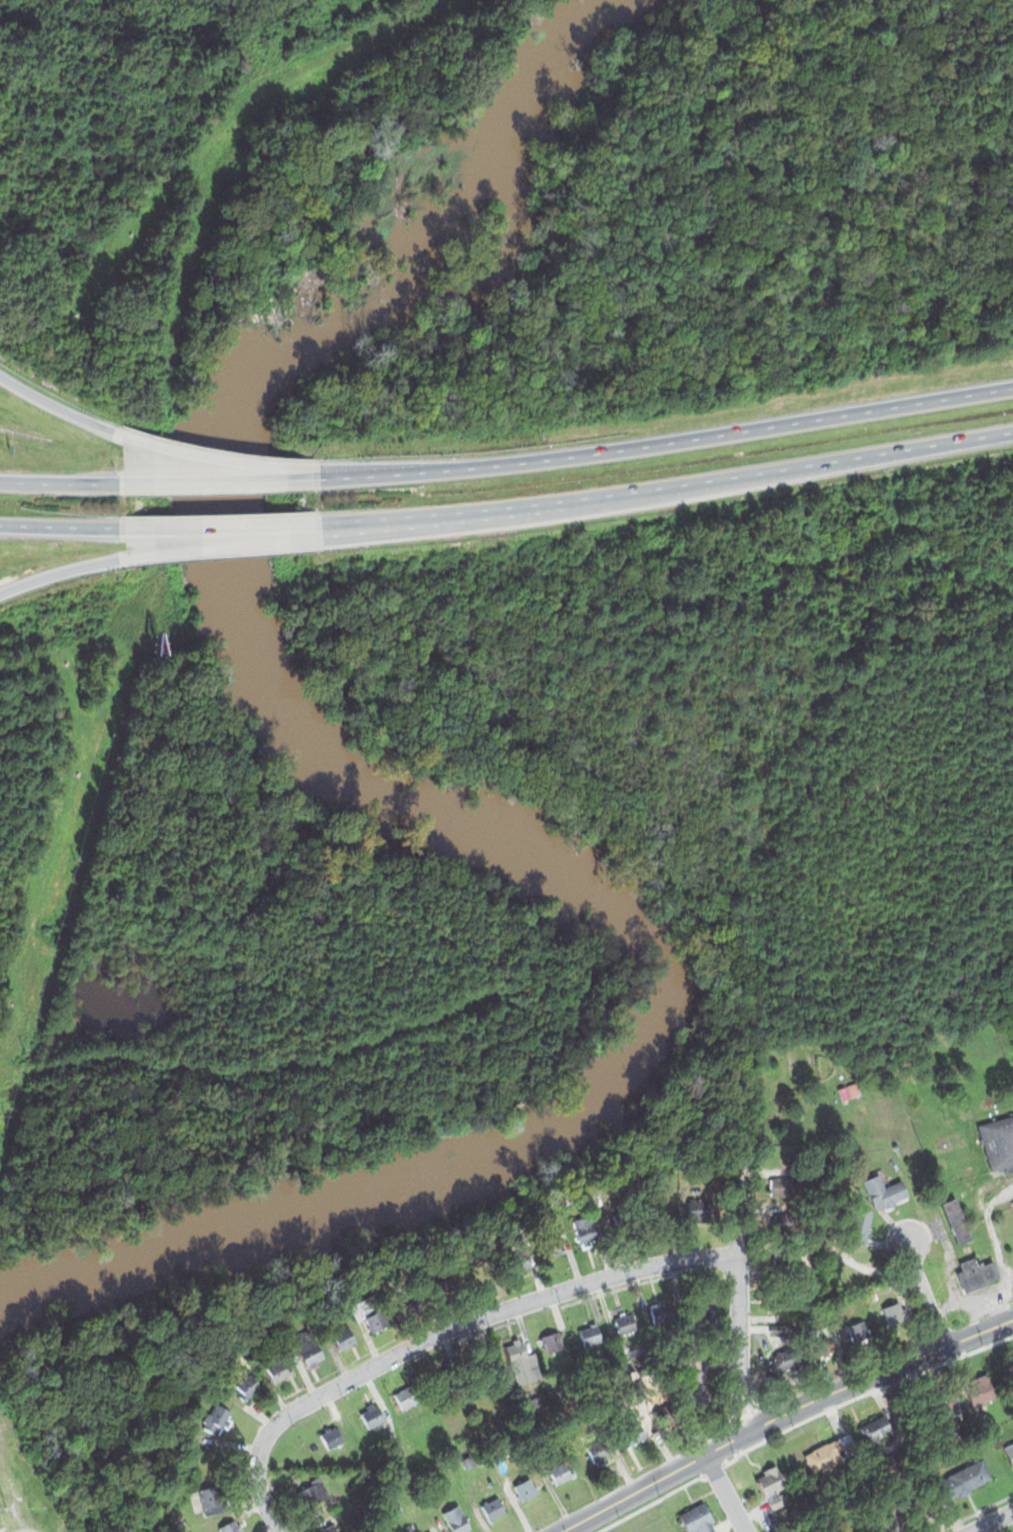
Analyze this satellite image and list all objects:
river: (604, 8)
power tower: (272, 42)
river: (533, 110)
power tower: (225, 169)
power tower: (180, 288)
river: (403, 310)
road: (55, 405)
power tower: (167, 416)
road: (668, 442)
road: (216, 458)
road: (219, 480)
road: (58, 482)
road: (685, 486)
road: (58, 525)
road: (236, 525)
road: (238, 542)
road: (59, 571)
power tower: (152, 585)
power tower: (109, 733)
power tower: (76, 860)
river: (651, 946)
power tower: (42, 993)
road: (252, 1072)
building: (850, 1089)
power tower: (4, 1111)
building: (998, 1141)
building: (784, 1185)
building: (884, 1193)
road: (737, 1202)
building: (699, 1212)
building: (956, 1221)
building: (628, 1222)
building: (787, 1222)
building: (859, 1225)
building: (581, 1228)
building: (550, 1239)
building: (787, 1259)
building: (518, 1261)
building: (974, 1270)
building: (482, 1275)
building: (450, 1286)
building: (789, 1290)
road: (927, 1293)
building: (872, 1295)
building: (411, 1302)
building: (662, 1312)
building: (892, 1312)
building: (366, 1314)
building: (707, 1318)
building: (624, 1324)
road: (441, 1331)
building: (588, 1336)
building: (861, 1336)
building: (343, 1338)
building: (553, 1343)
road: (740, 1346)
building: (511, 1349)
building: (310, 1351)
building: (823, 1352)
building: (480, 1356)
building: (783, 1360)
building: (279, 1369)
building: (1009, 1371)
building: (445, 1373)
building: (695, 1382)
building: (246, 1388)
building: (982, 1391)
building: (406, 1397)
building: (939, 1404)
building: (673, 1413)
road: (783, 1415)
building: (371, 1416)
building: (911, 1417)
building: (215, 1418)
building: (881, 1424)
building: (628, 1434)
building: (332, 1437)
building: (598, 1450)
building: (831, 1452)
building: (1009, 1452)
park: (45, 1464)
building: (560, 1470)
building: (503, 1478)
building: (437, 1481)
building: (961, 1481)
building: (774, 1484)
building: (315, 1485)
building: (524, 1489)
road: (726, 1493)
building: (214, 1499)
power tower: (48, 1505)
building: (914, 1506)
building: (492, 1507)
building: (397, 1508)
building: (456, 1519)
building: (696, 1519)
building: (177, 1520)
road: (992, 1521)
building: (869, 1526)
building: (230, 1527)
building: (848, 1529)

